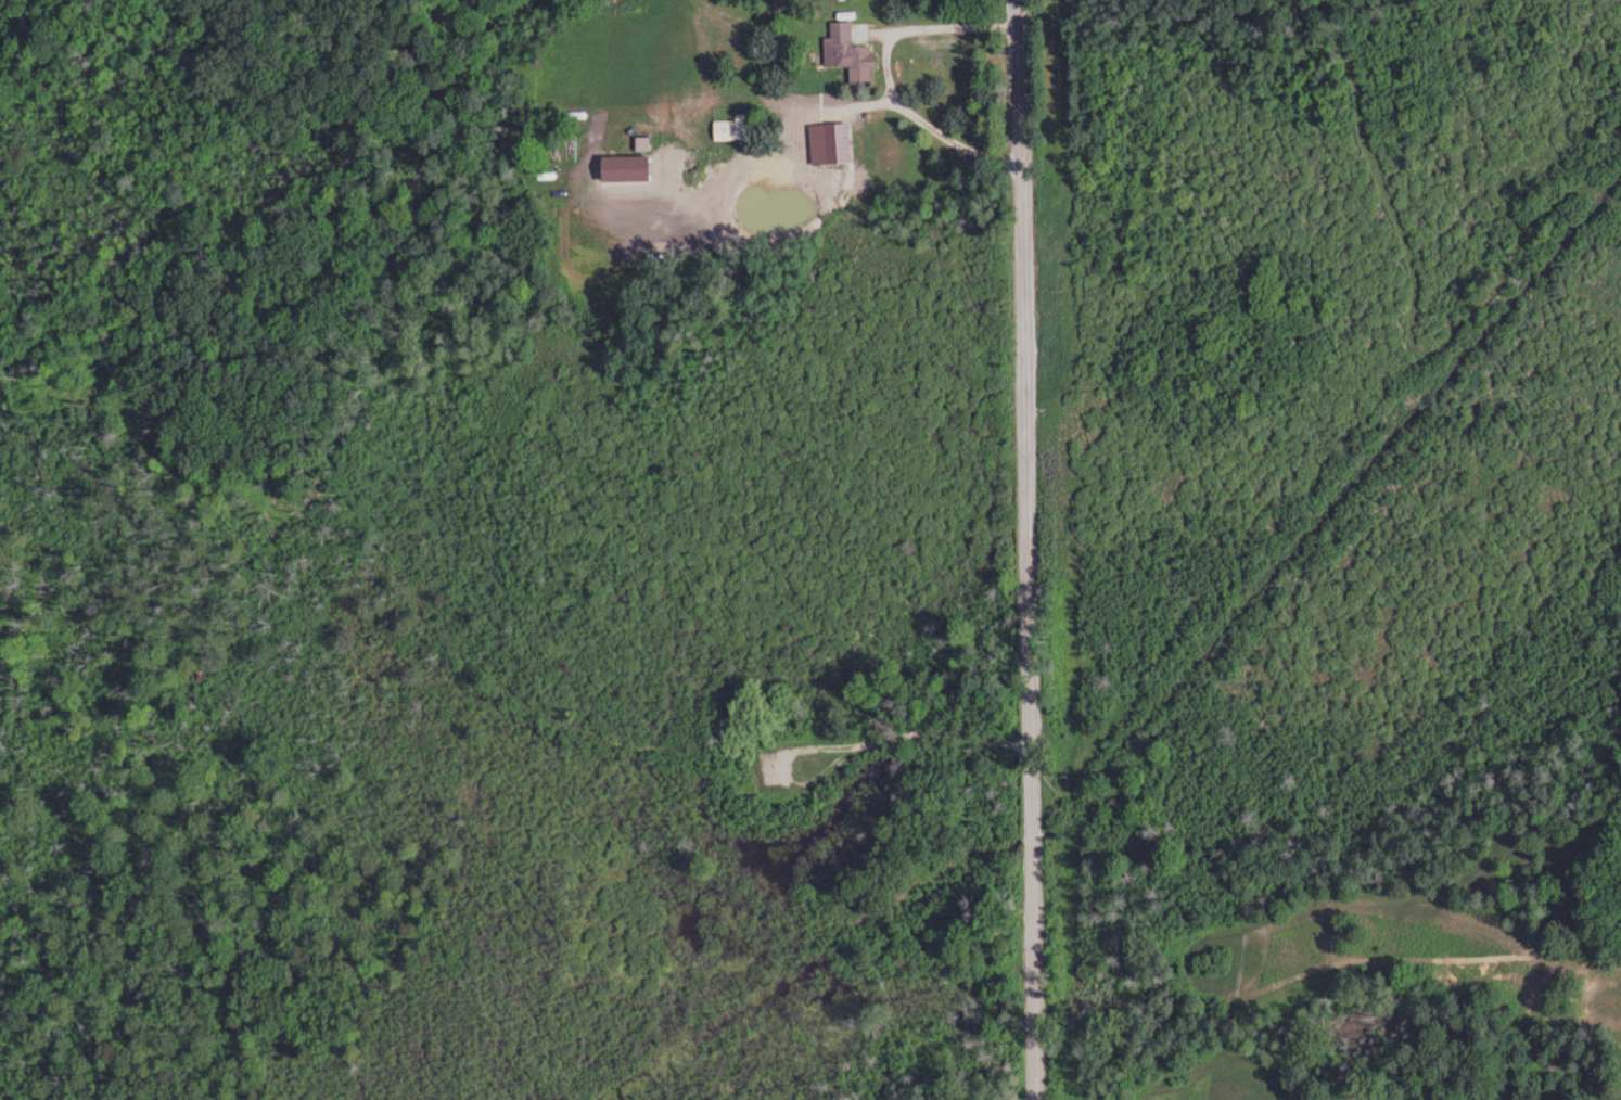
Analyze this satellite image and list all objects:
building: (850, 55)
road: (889, 73)
building: (730, 129)
road: (1026, 550)

